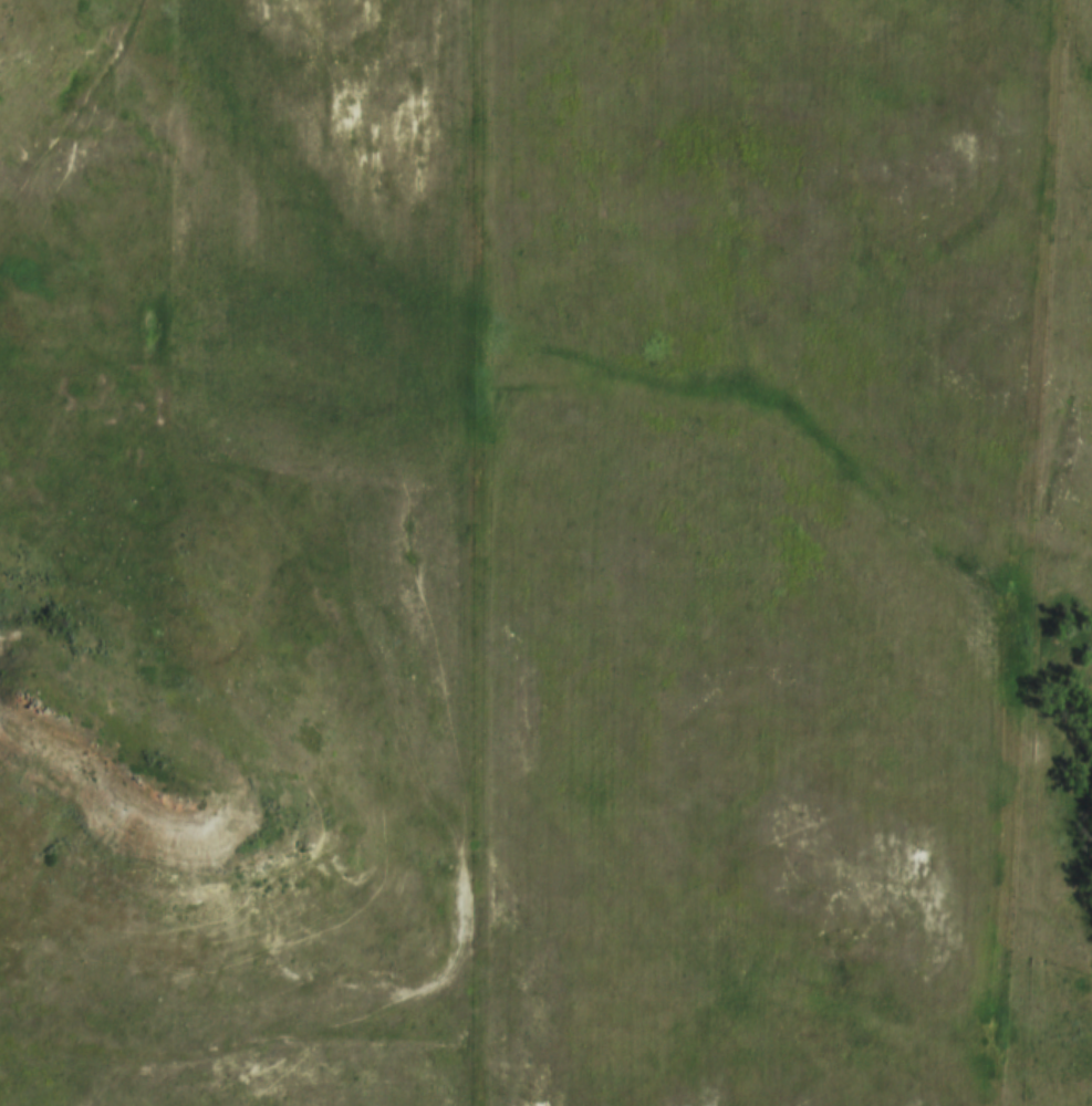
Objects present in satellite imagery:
road: (299, 555)

